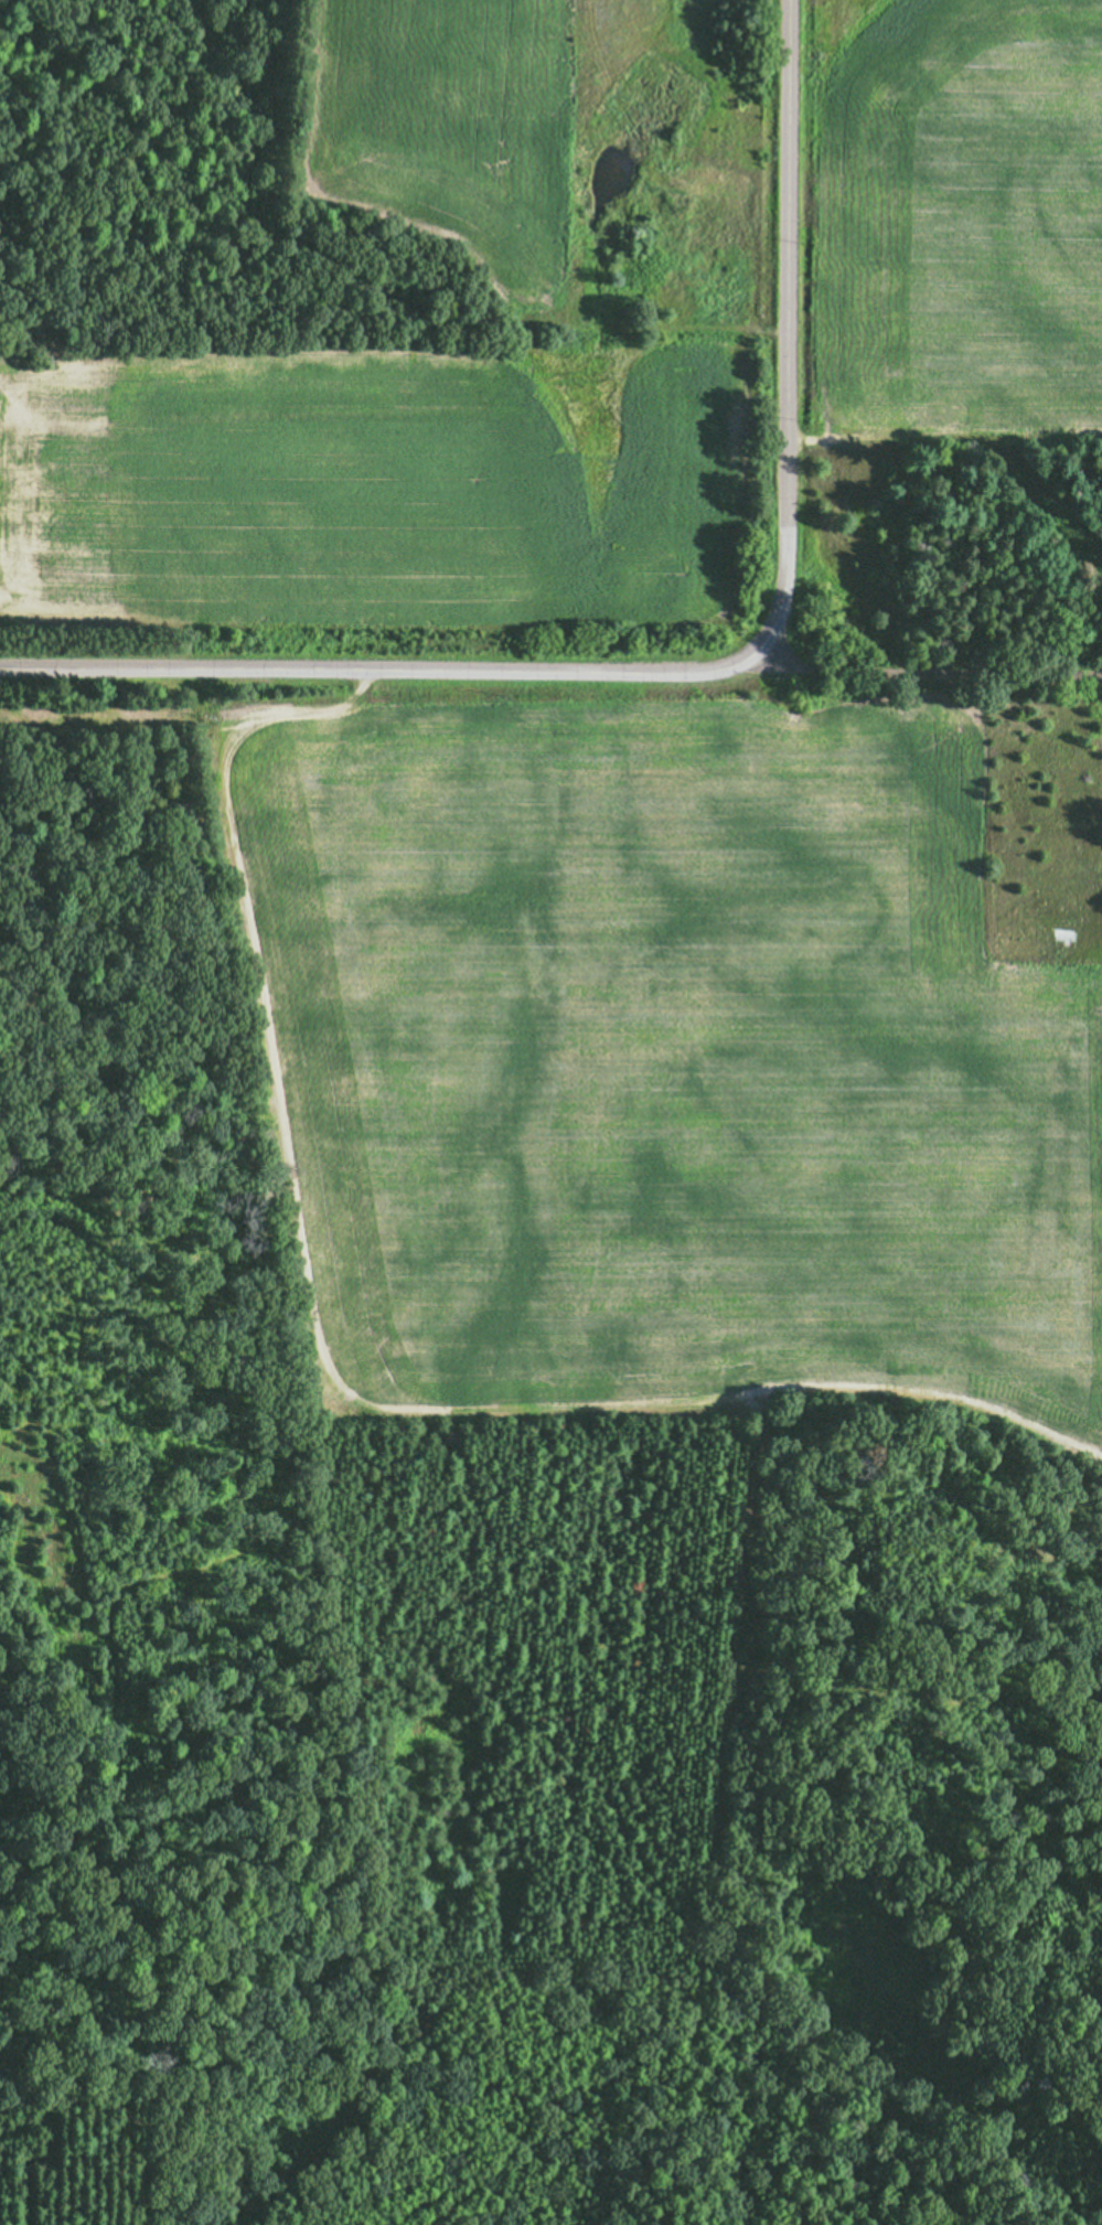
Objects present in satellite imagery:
road: (928, 666)
road: (707, 668)

